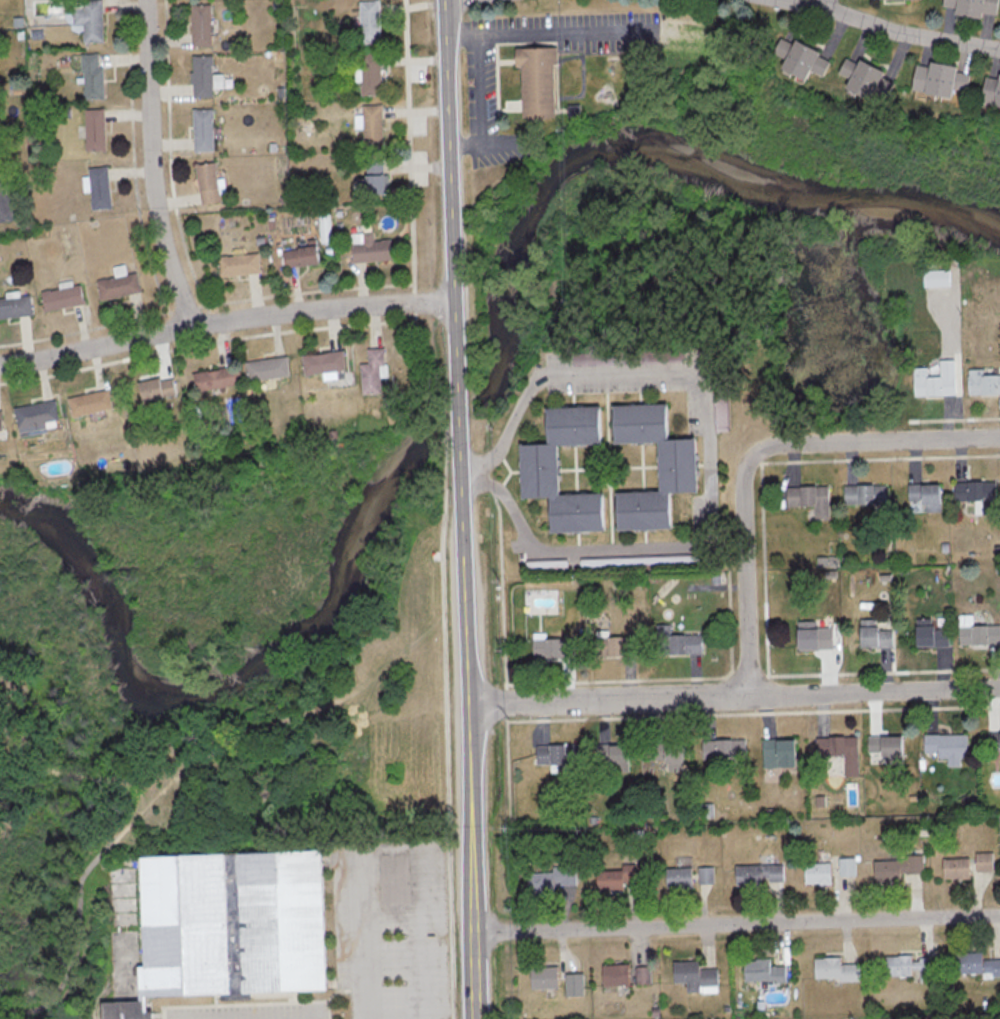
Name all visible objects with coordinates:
road: (800, 5)
road: (825, 5)
building: (974, 7)
building: (91, 18)
building: (370, 21)
building: (202, 24)
road: (551, 32)
road: (910, 35)
building: (804, 57)
building: (372, 74)
building: (94, 75)
building: (204, 75)
building: (869, 77)
building: (943, 78)
building: (541, 83)
building: (992, 88)
road: (479, 101)
building: (374, 126)
building: (96, 129)
building: (205, 129)
road: (454, 149)
road: (154, 165)
building: (376, 177)
building: (209, 182)
building: (101, 187)
building: (324, 223)
building: (371, 247)
building: (302, 255)
building: (241, 264)
building: (937, 278)
building: (120, 285)
building: (64, 298)
building: (16, 306)
road: (227, 319)
road: (461, 345)
building: (326, 364)
building: (270, 369)
building: (375, 372)
building: (217, 379)
building: (936, 380)
building: (983, 382)
building: (159, 389)
building: (93, 403)
road: (463, 407)
building: (41, 416)
building: (3, 424)
road: (758, 452)
road: (611, 465)
road: (611, 466)
road: (715, 466)
road: (648, 467)
road: (581, 471)
building: (679, 478)
building: (544, 481)
building: (865, 494)
building: (975, 495)
building: (923, 496)
building: (809, 499)
building: (975, 633)
building: (871, 635)
building: (927, 635)
building: (810, 636)
building: (678, 642)
building: (617, 646)
building: (557, 649)
road: (737, 694)
road: (475, 720)
building: (992, 744)
building: (944, 746)
building: (884, 748)
building: (724, 750)
building: (838, 751)
building: (776, 753)
building: (670, 754)
building: (614, 755)
building: (561, 757)
building: (981, 861)
building: (845, 867)
building: (895, 868)
building: (953, 868)
building: (814, 873)
building: (707, 875)
building: (757, 875)
building: (622, 877)
building: (681, 878)
building: (552, 880)
road: (739, 922)
park: (306, 924)
building: (215, 926)
parking lot: (398, 927)
road: (369, 939)
building: (975, 966)
building: (908, 968)
building: (832, 970)
building: (760, 972)
road: (423, 975)
building: (616, 975)
building: (643, 975)
building: (696, 977)
building: (546, 978)
building: (575, 985)
building: (128, 1011)
parking lot: (259, 1012)

